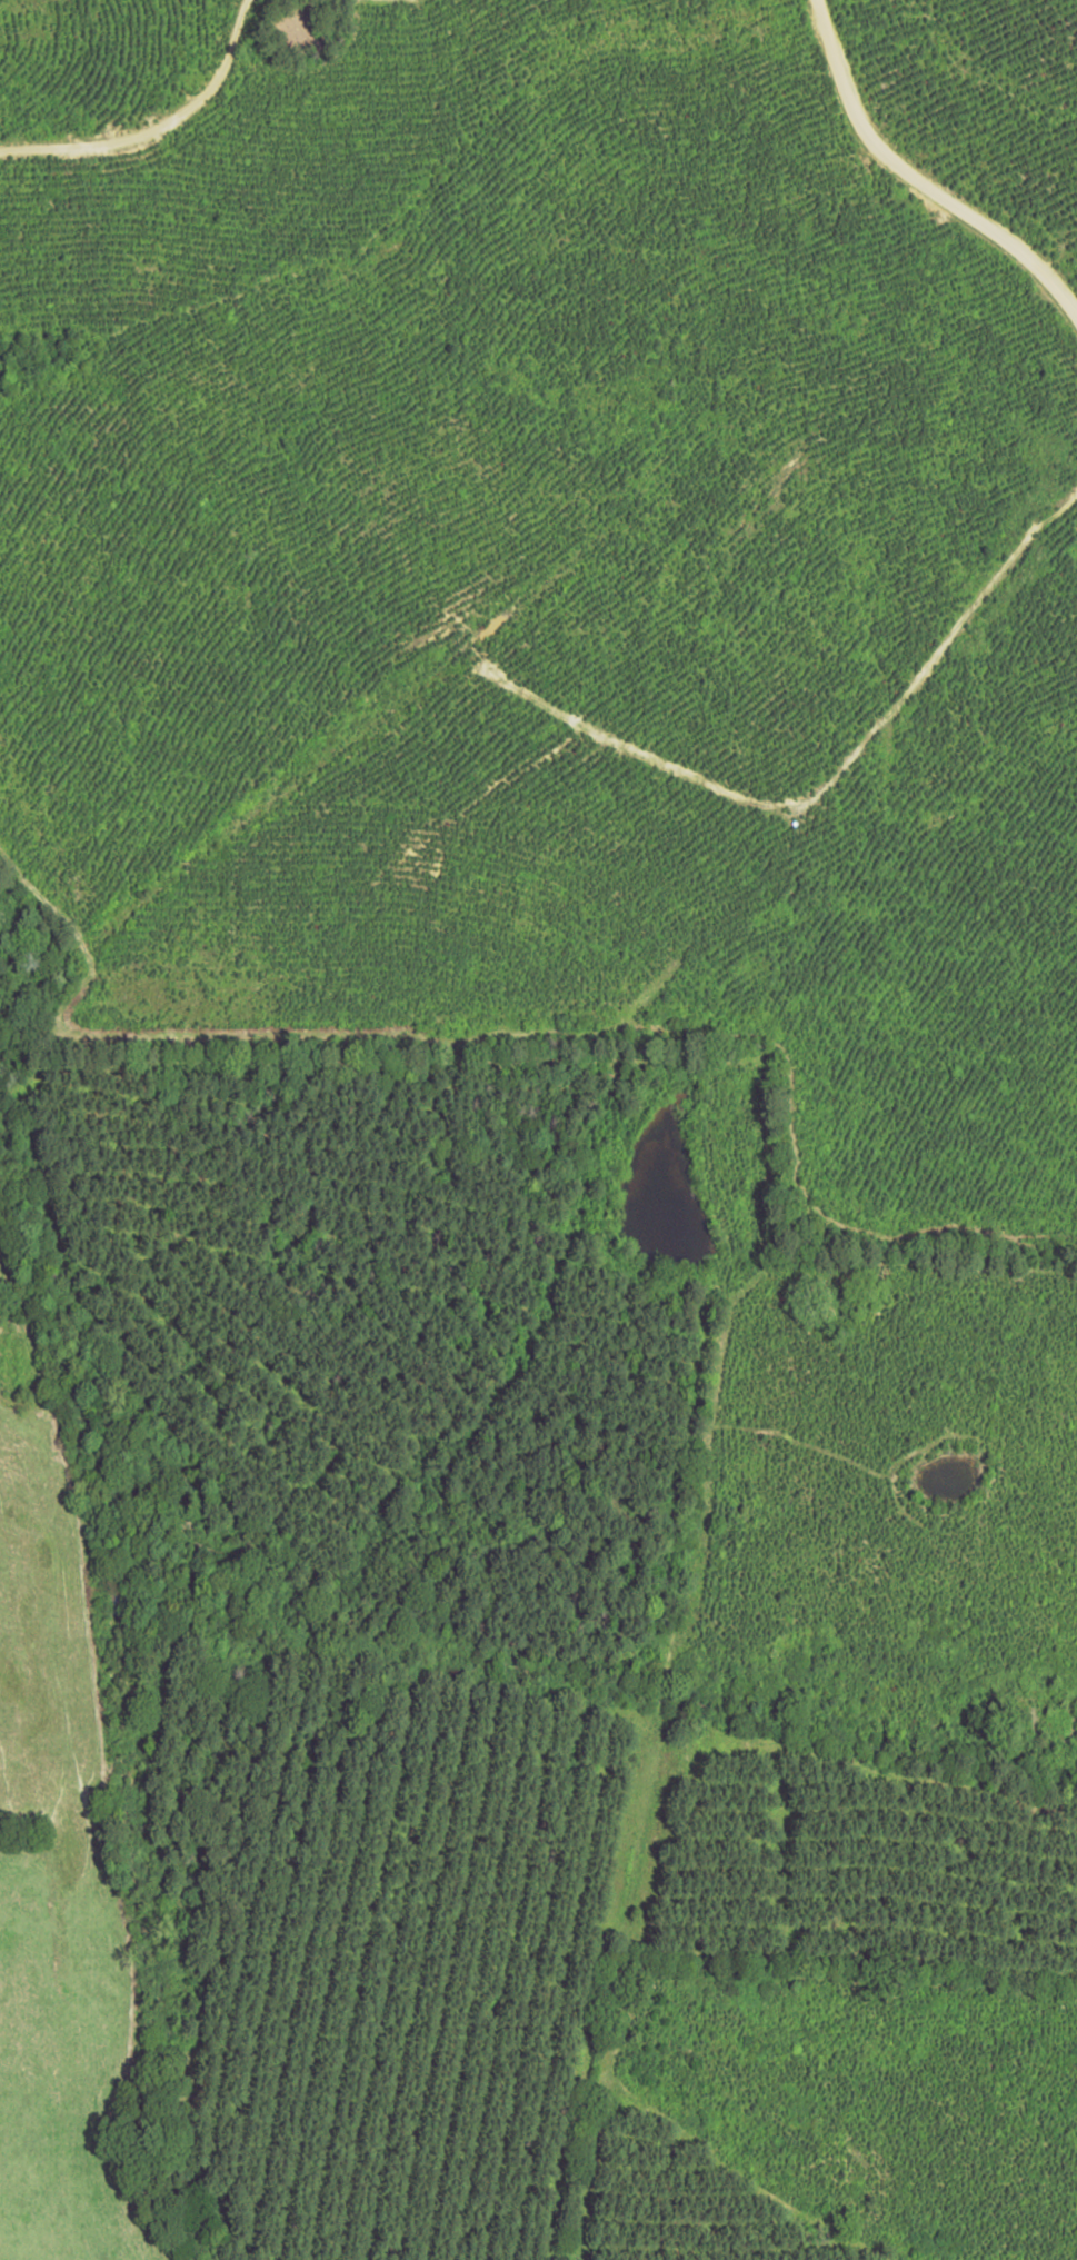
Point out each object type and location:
road: (921, 180)
road: (711, 208)

